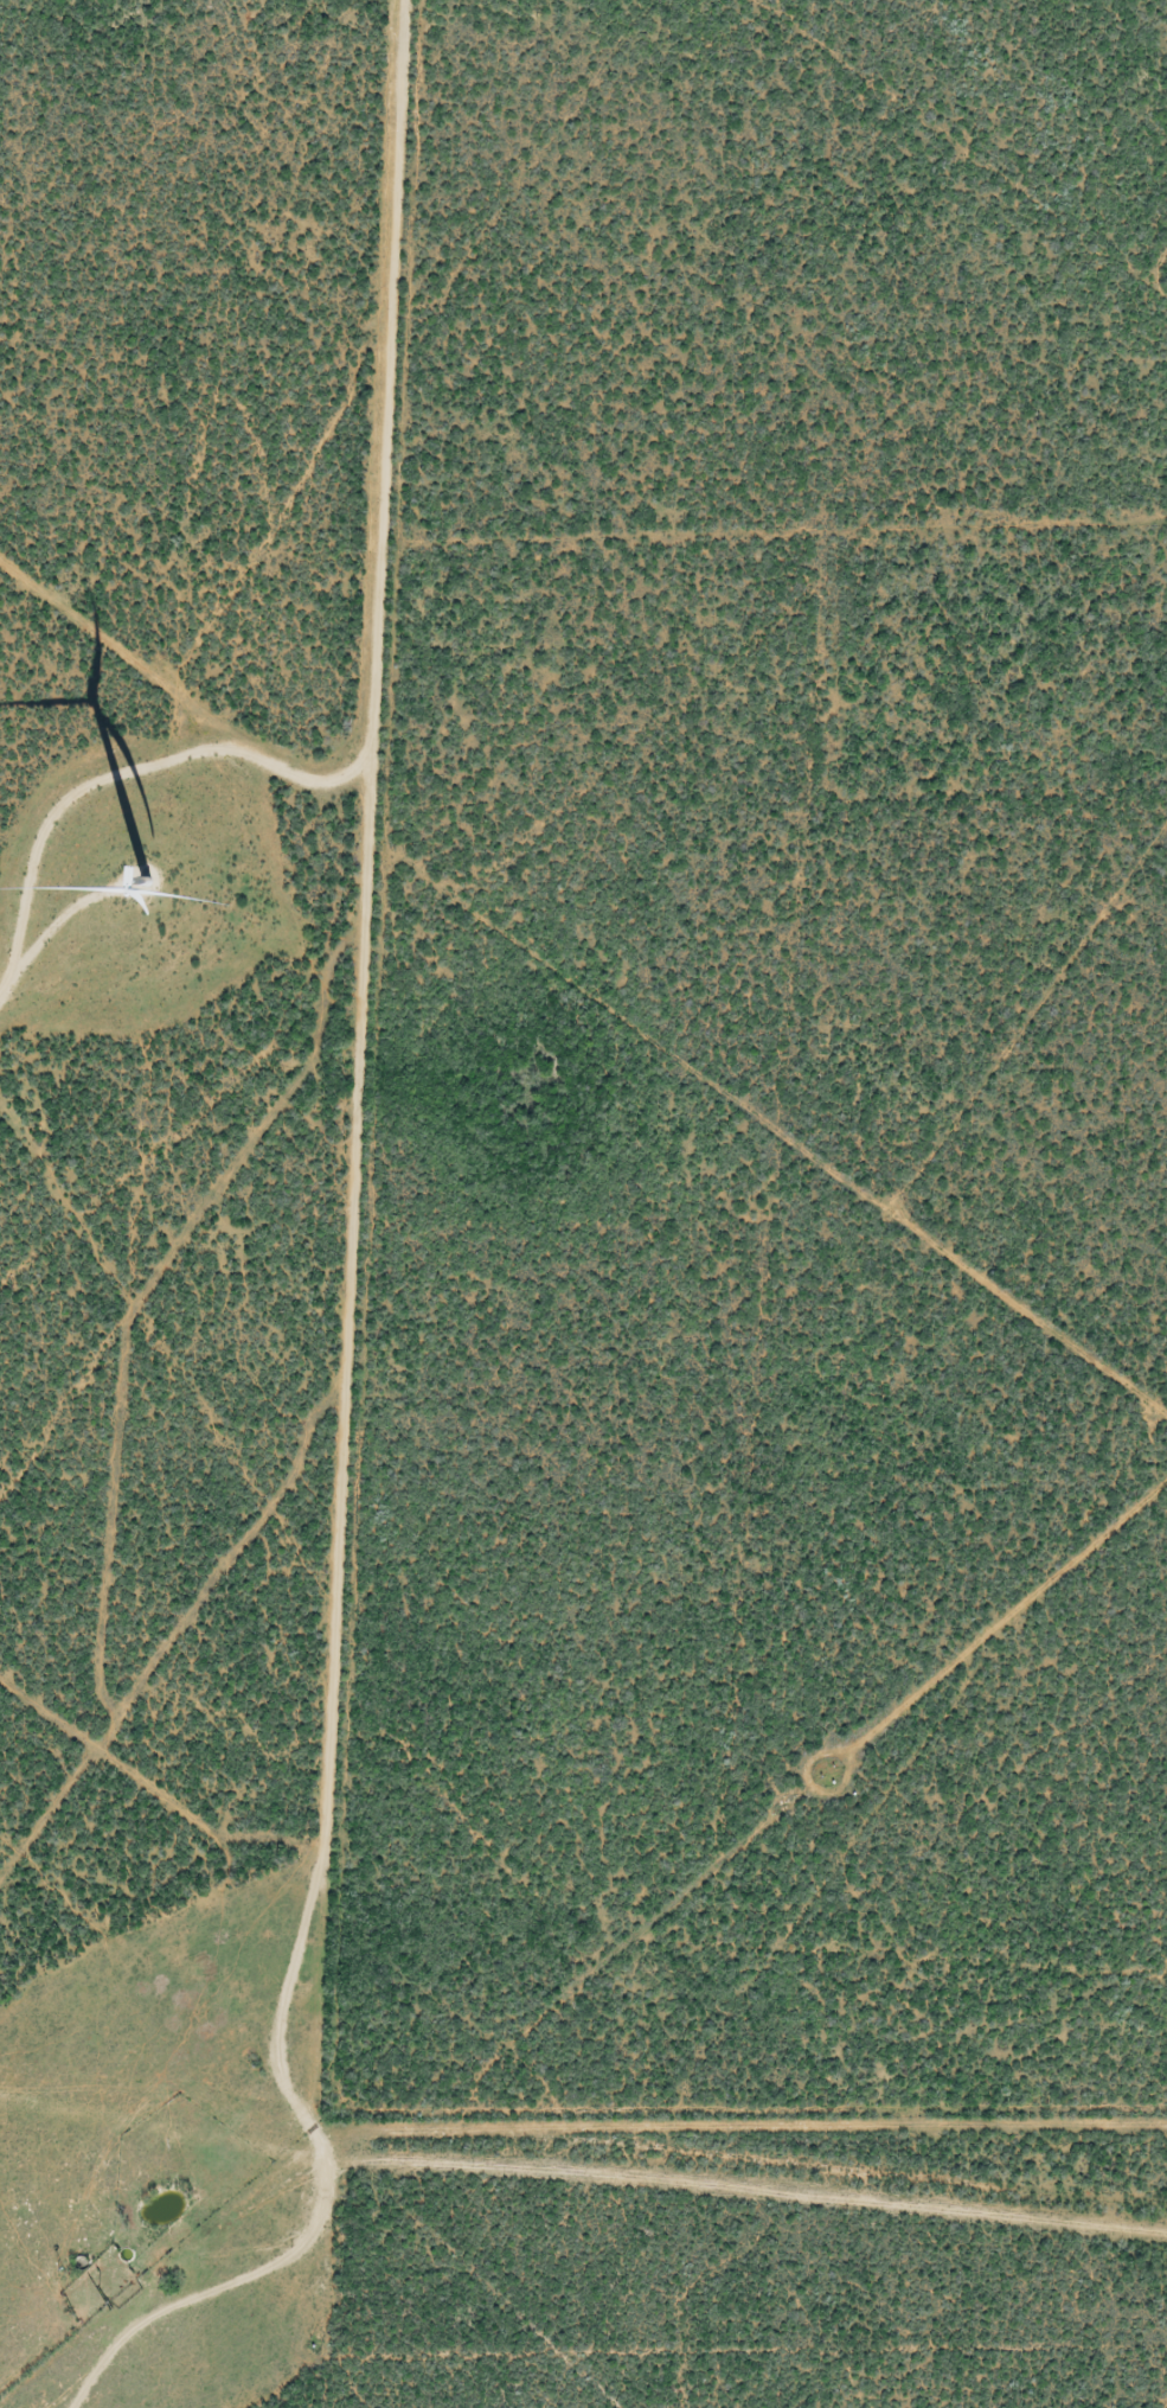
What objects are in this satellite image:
wind turbine: (140, 892)
road: (595, 2178)

